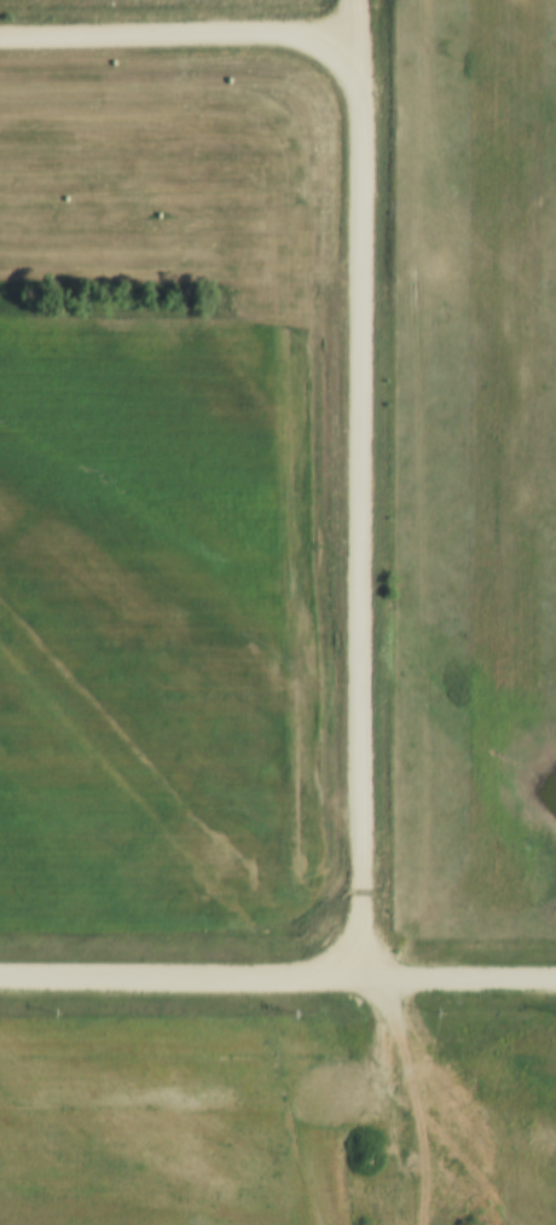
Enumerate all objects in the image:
road: (418, 490)
road: (278, 978)
road: (411, 1102)

